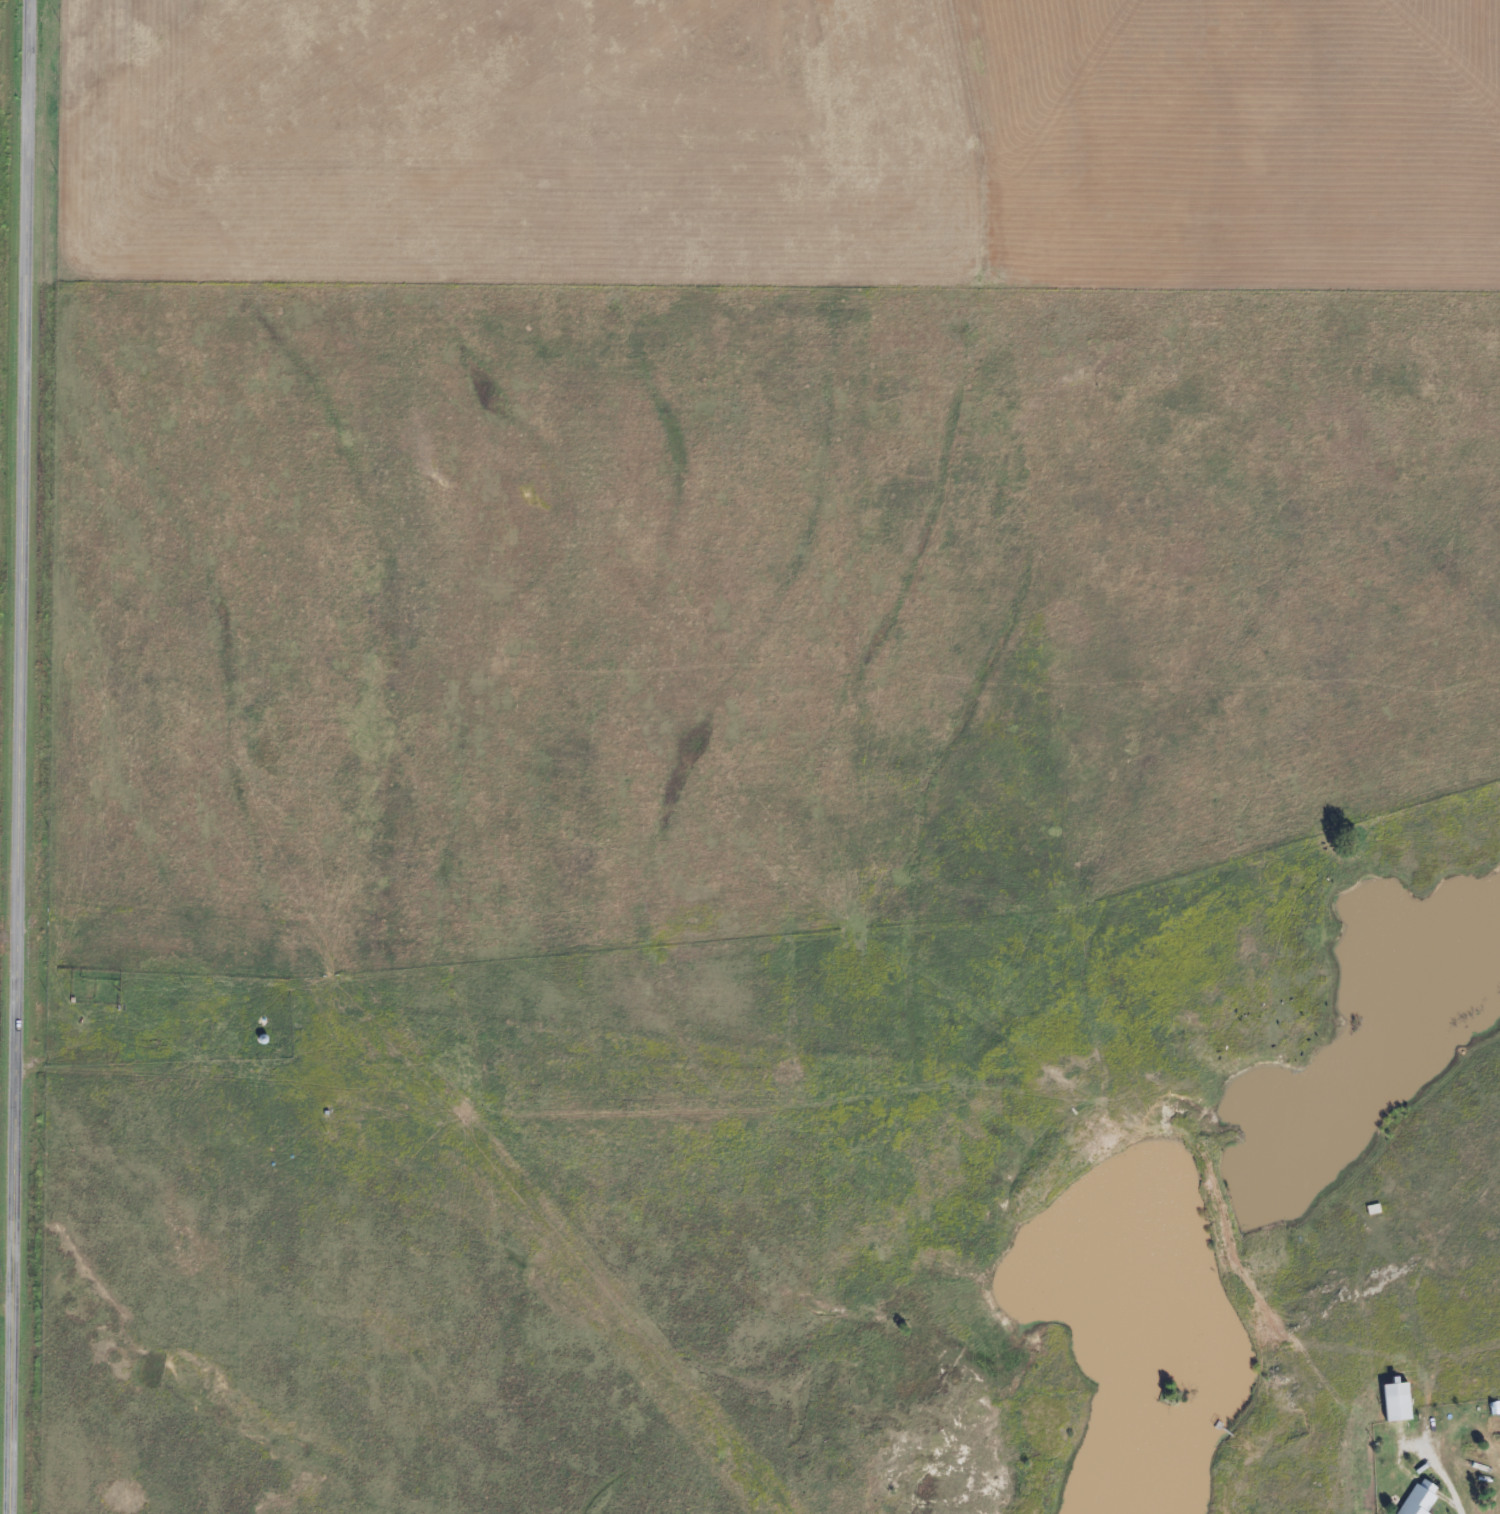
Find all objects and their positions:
road: (12, 756)
building: (265, 1038)
building: (1374, 1209)
building: (1394, 1400)
building: (1419, 1498)

